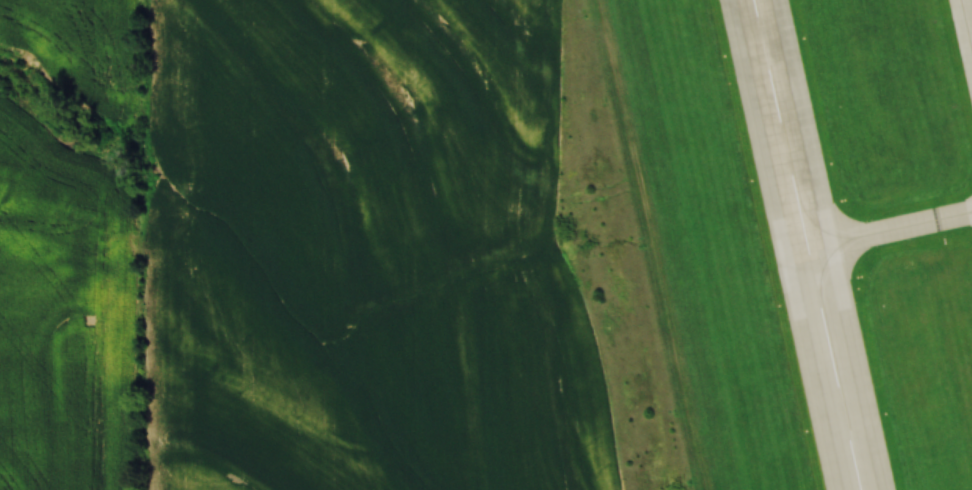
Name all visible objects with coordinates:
airport taxiway: (966, 26)
airport taxiway: (888, 231)
airport runway: (803, 245)

